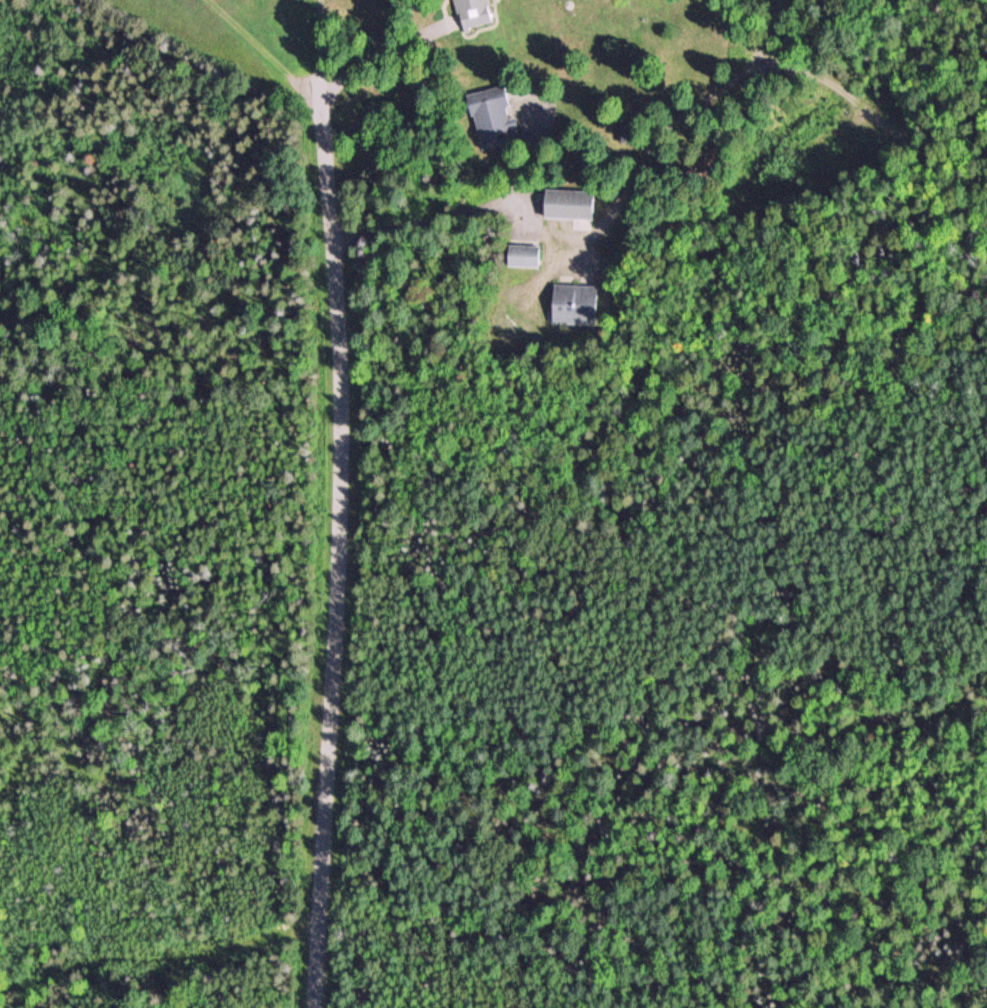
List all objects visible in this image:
building: (474, 12)
road: (293, 80)
building: (491, 117)
building: (568, 203)
building: (523, 254)
building: (573, 303)
road: (347, 545)

